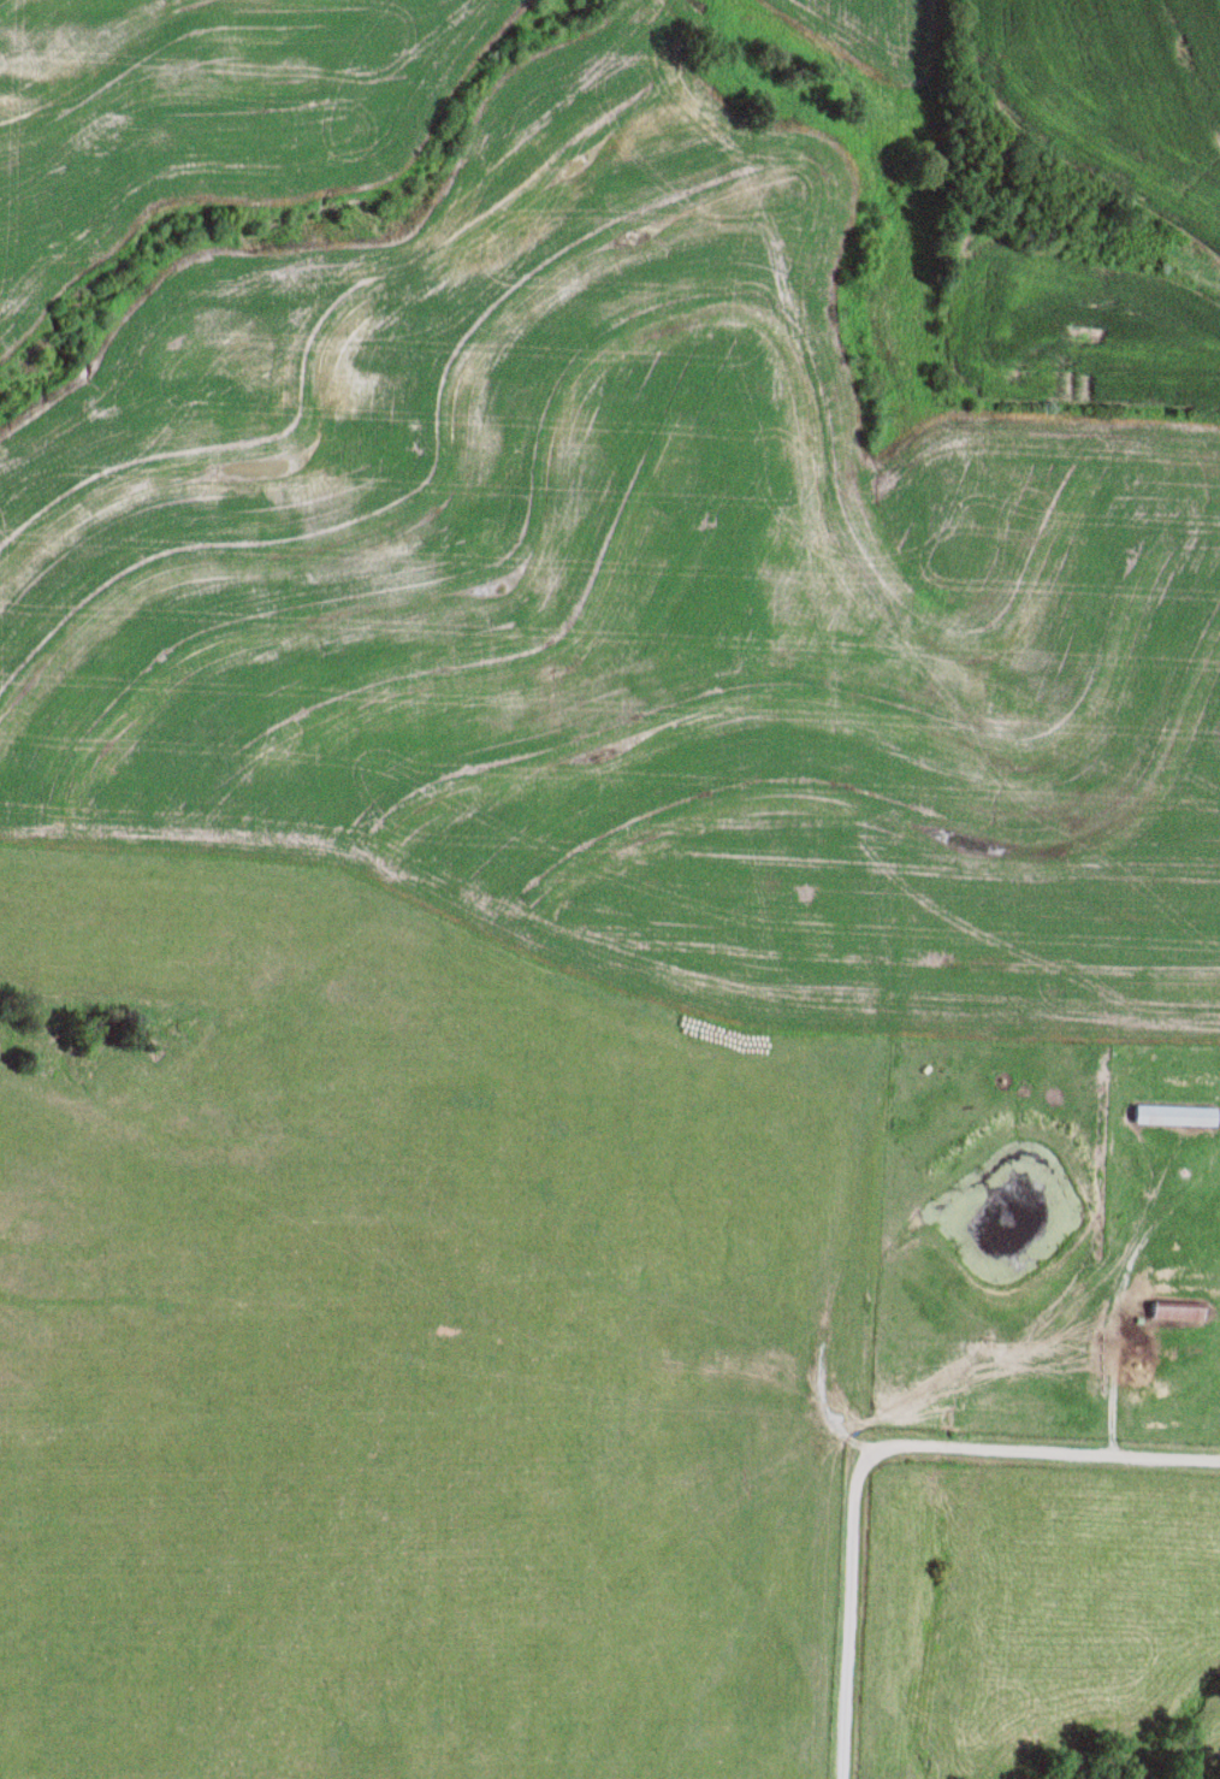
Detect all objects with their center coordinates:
crop: (1064, 733)
building: (1172, 1117)
building: (1174, 1312)
road: (880, 1444)

